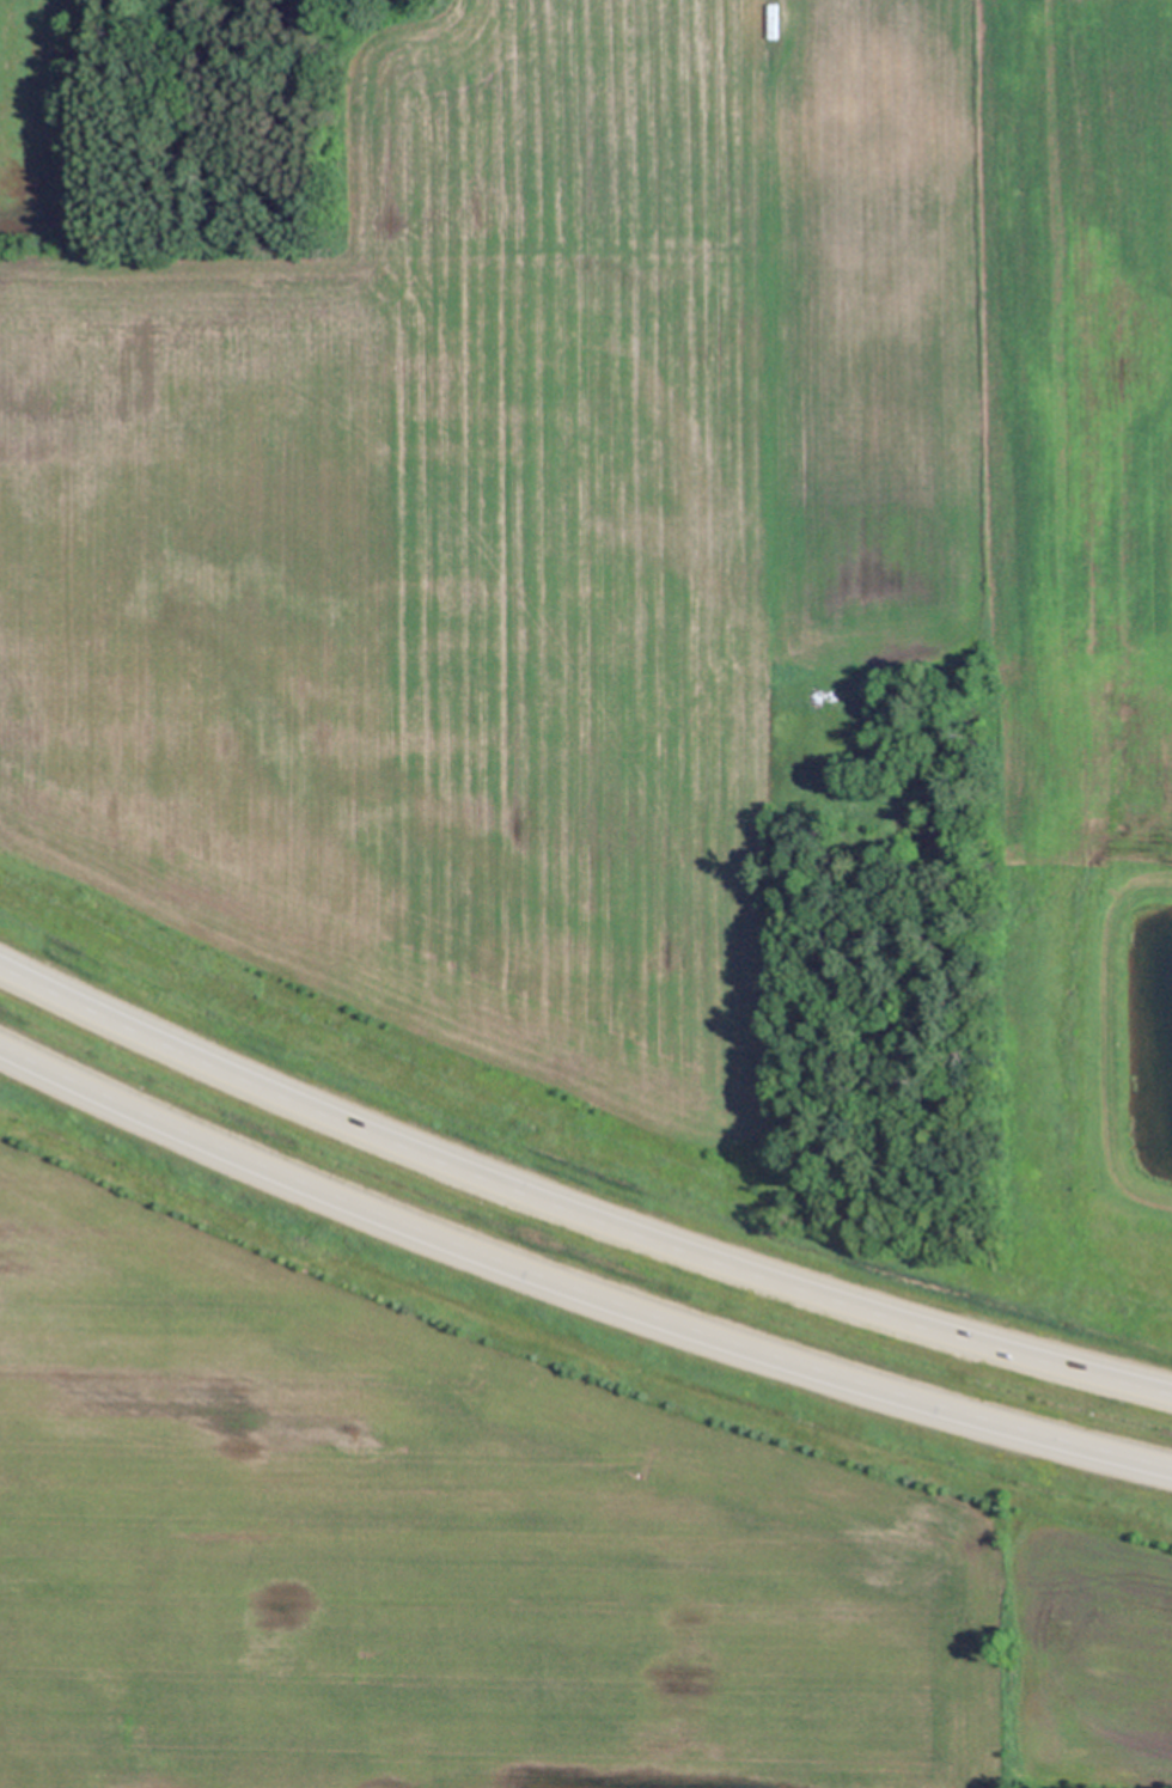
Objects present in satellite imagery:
building: (771, 20)
road: (575, 1208)
road: (575, 1286)

